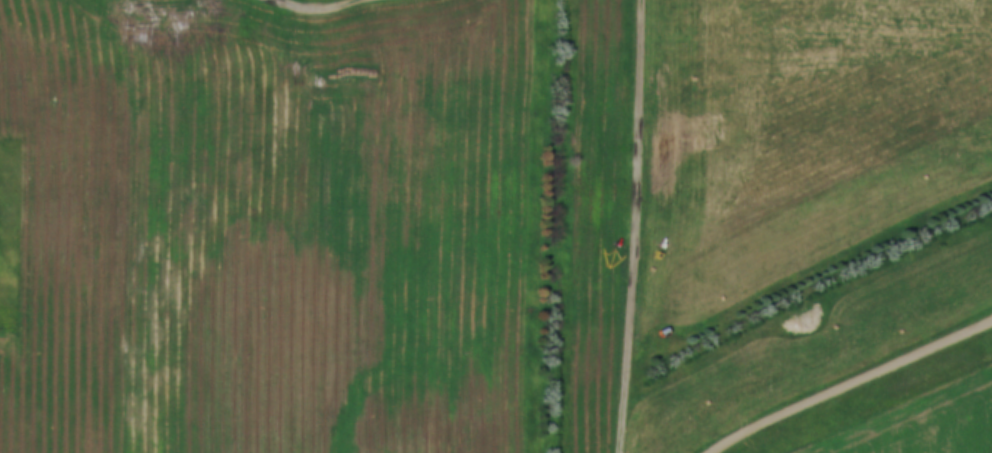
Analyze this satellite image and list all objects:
road: (333, 8)
road: (631, 226)
road: (852, 386)

